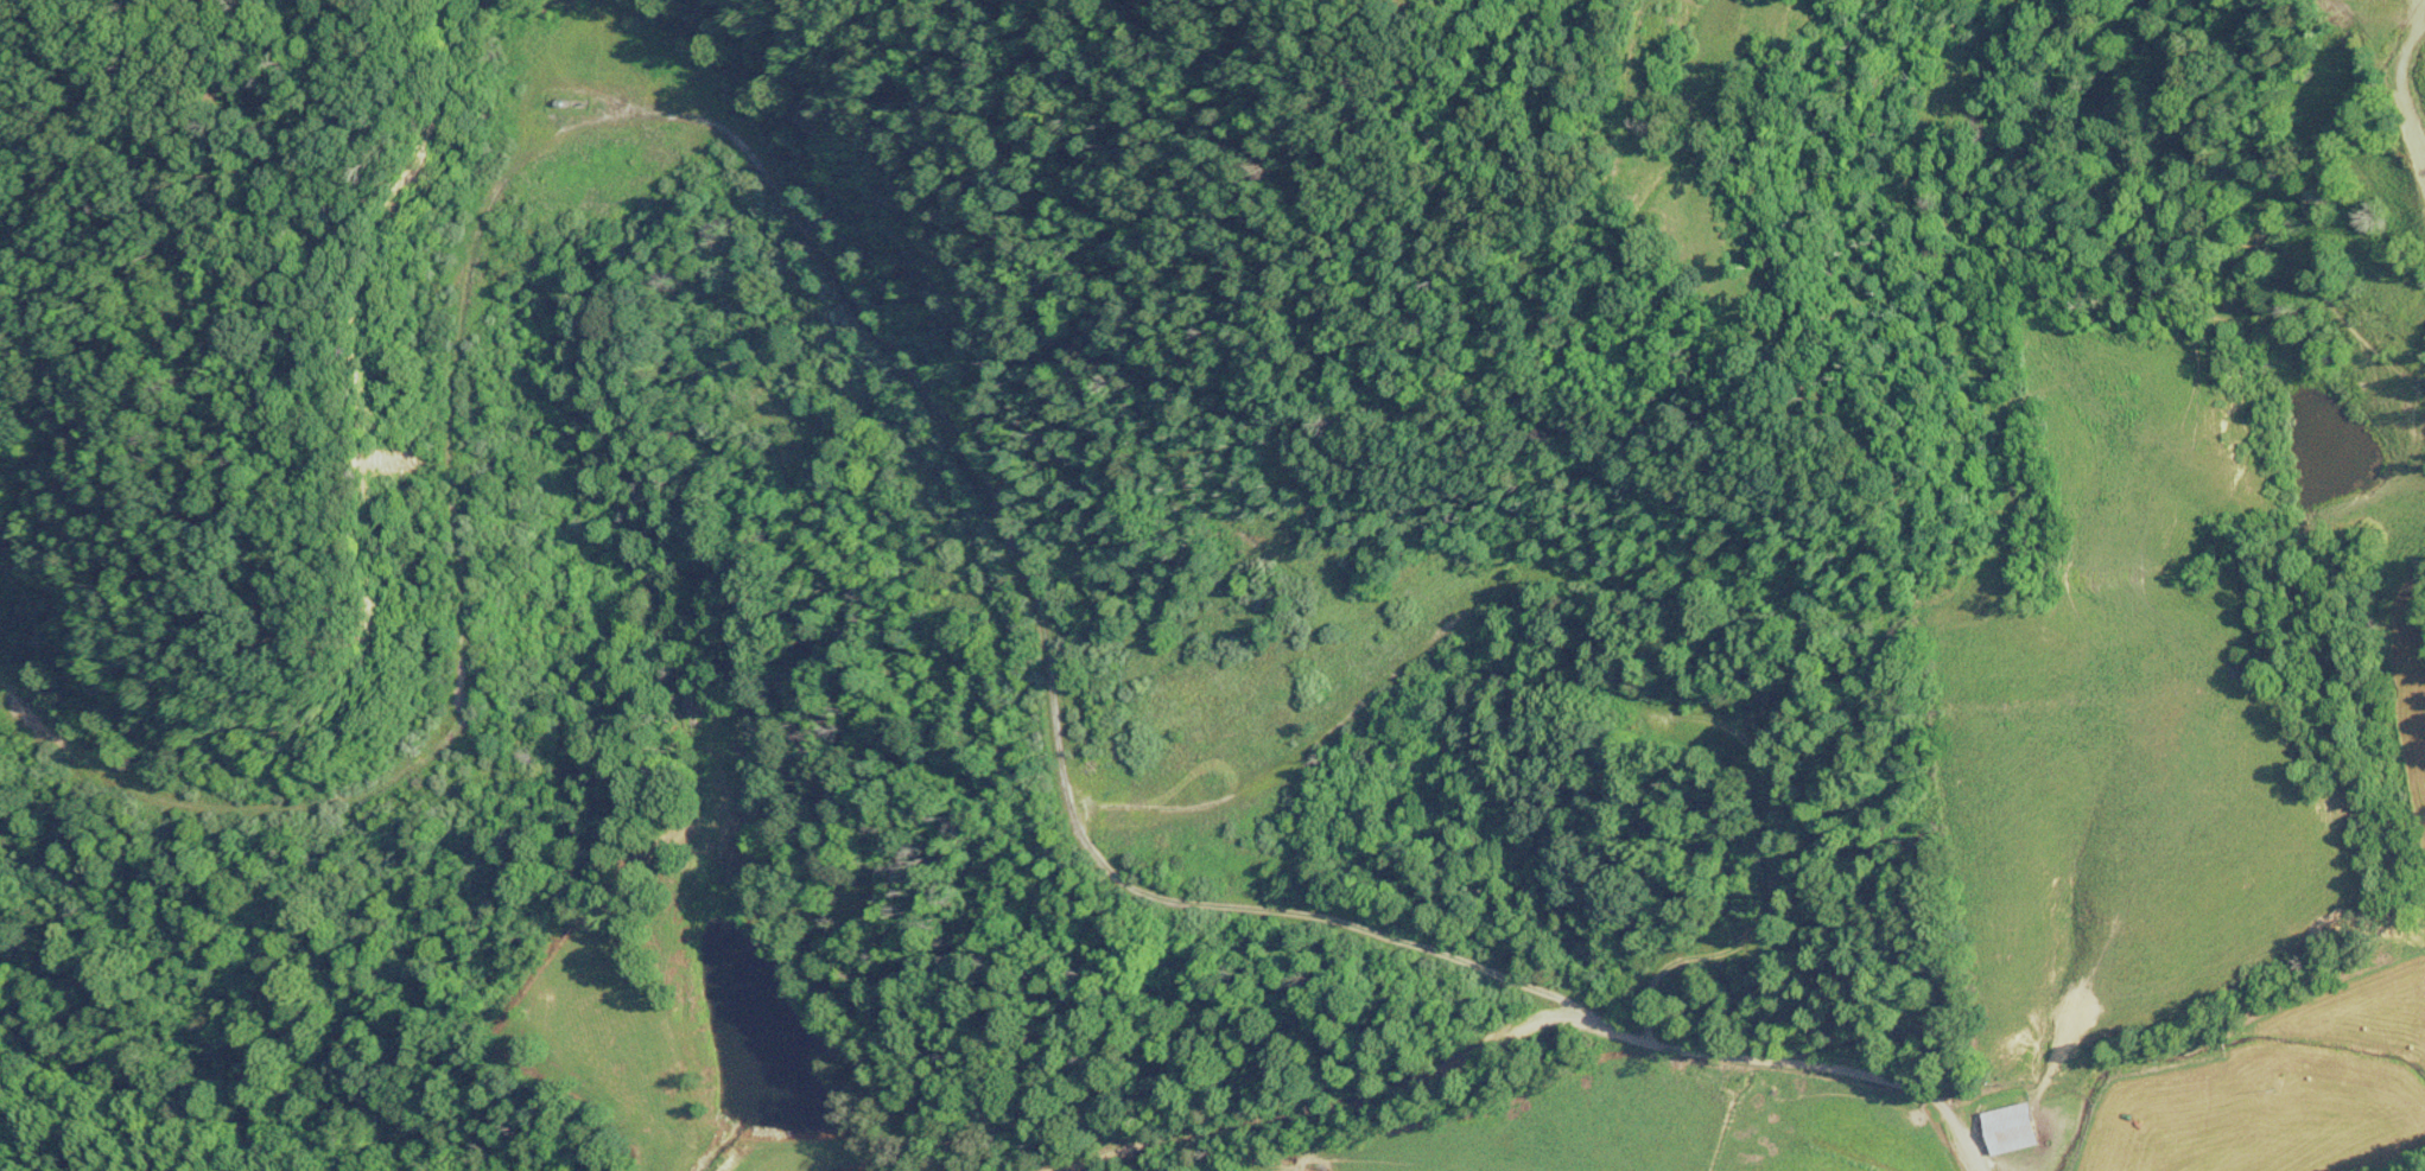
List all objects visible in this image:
road: (1892, 1109)
building: (2013, 1128)

